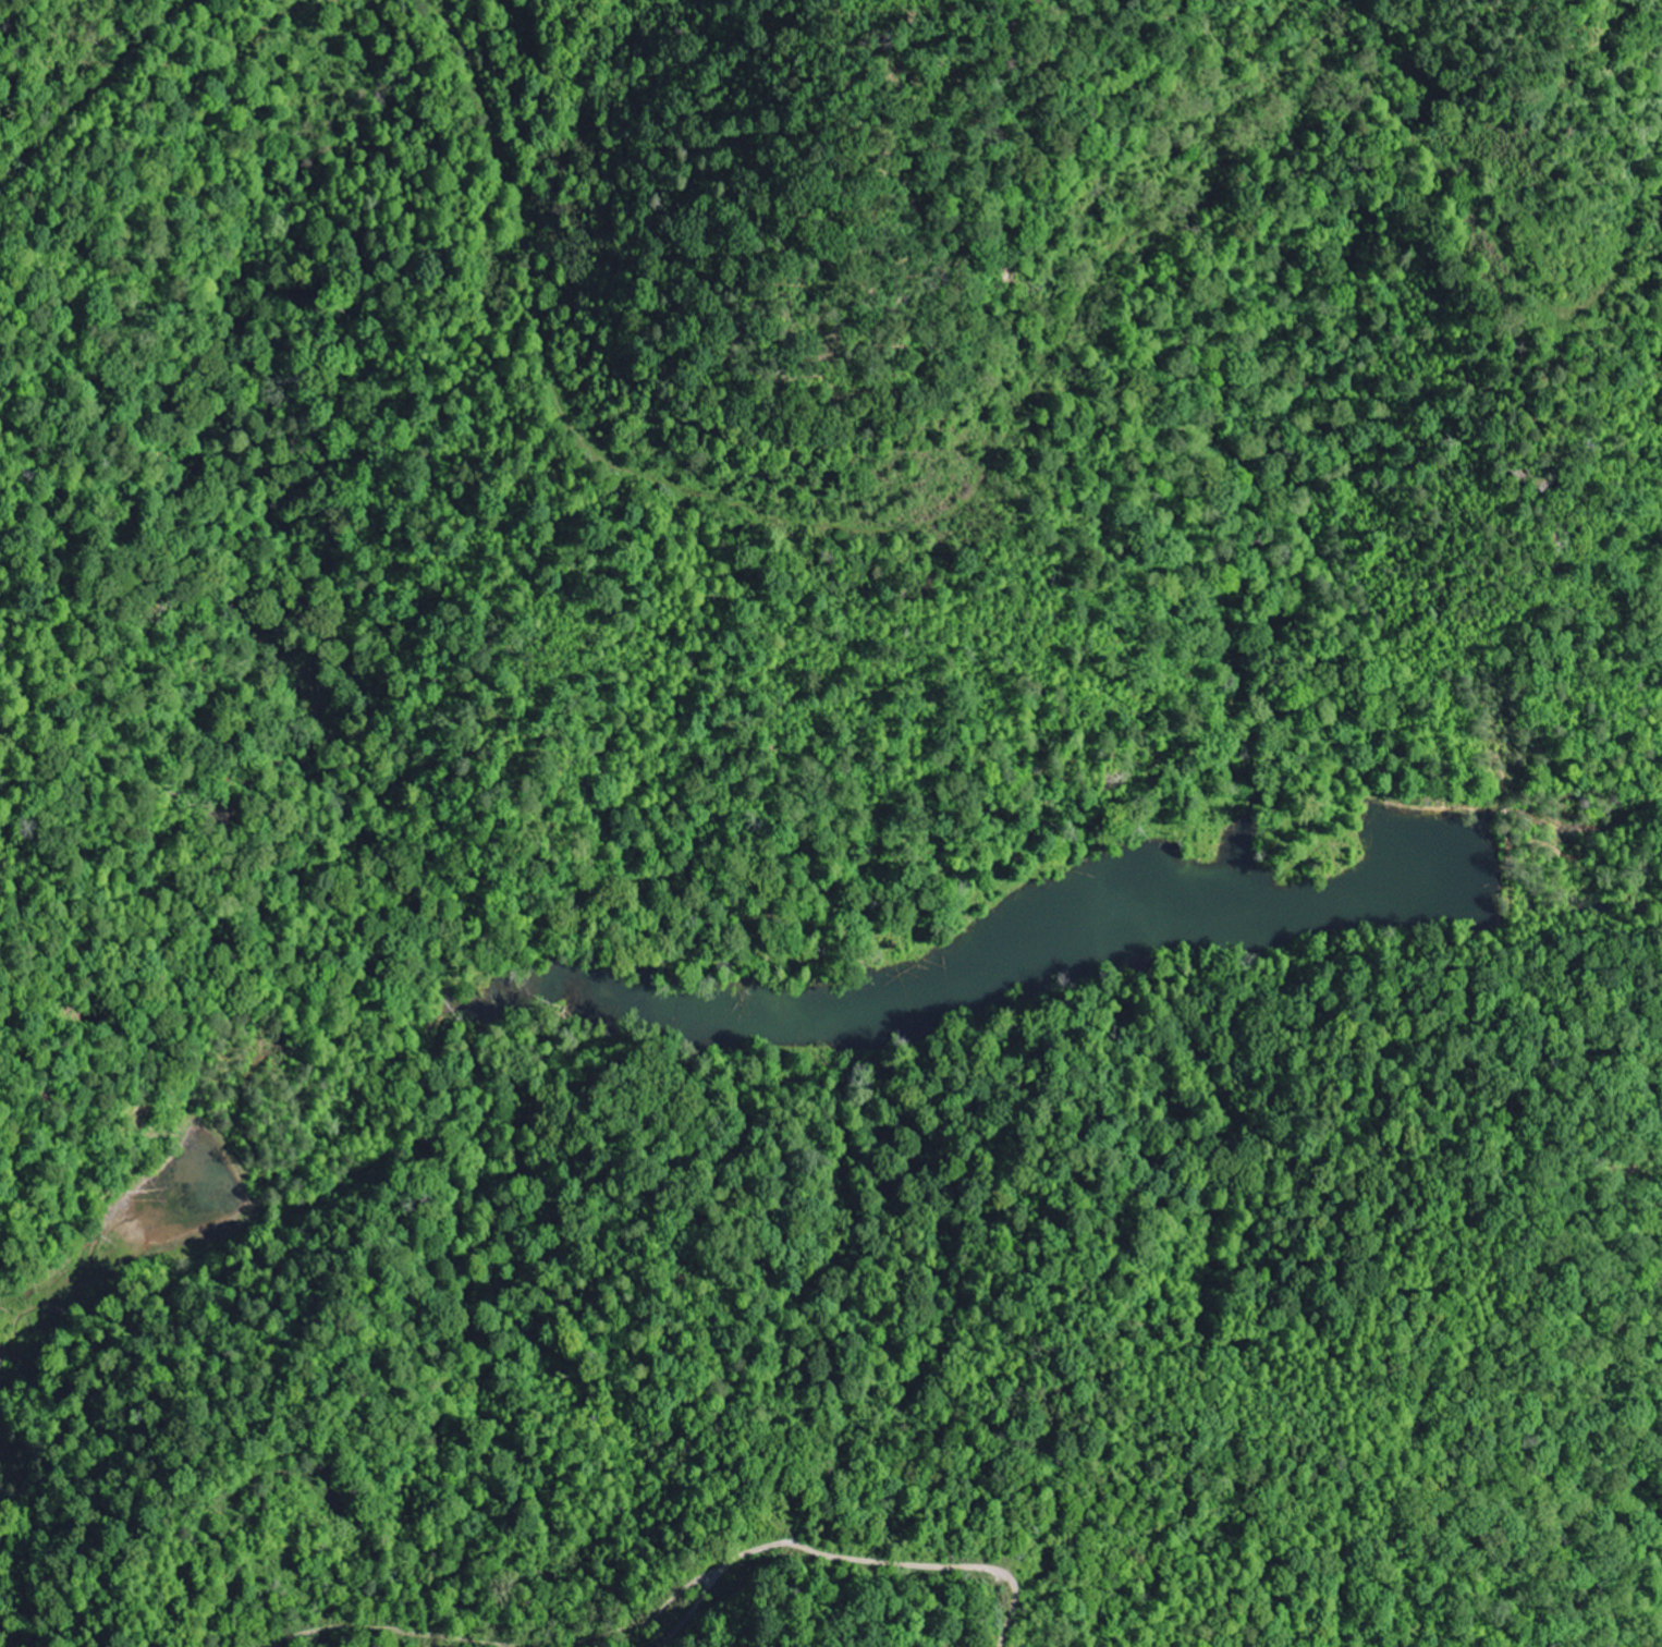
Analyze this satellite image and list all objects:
road: (1654, 859)

